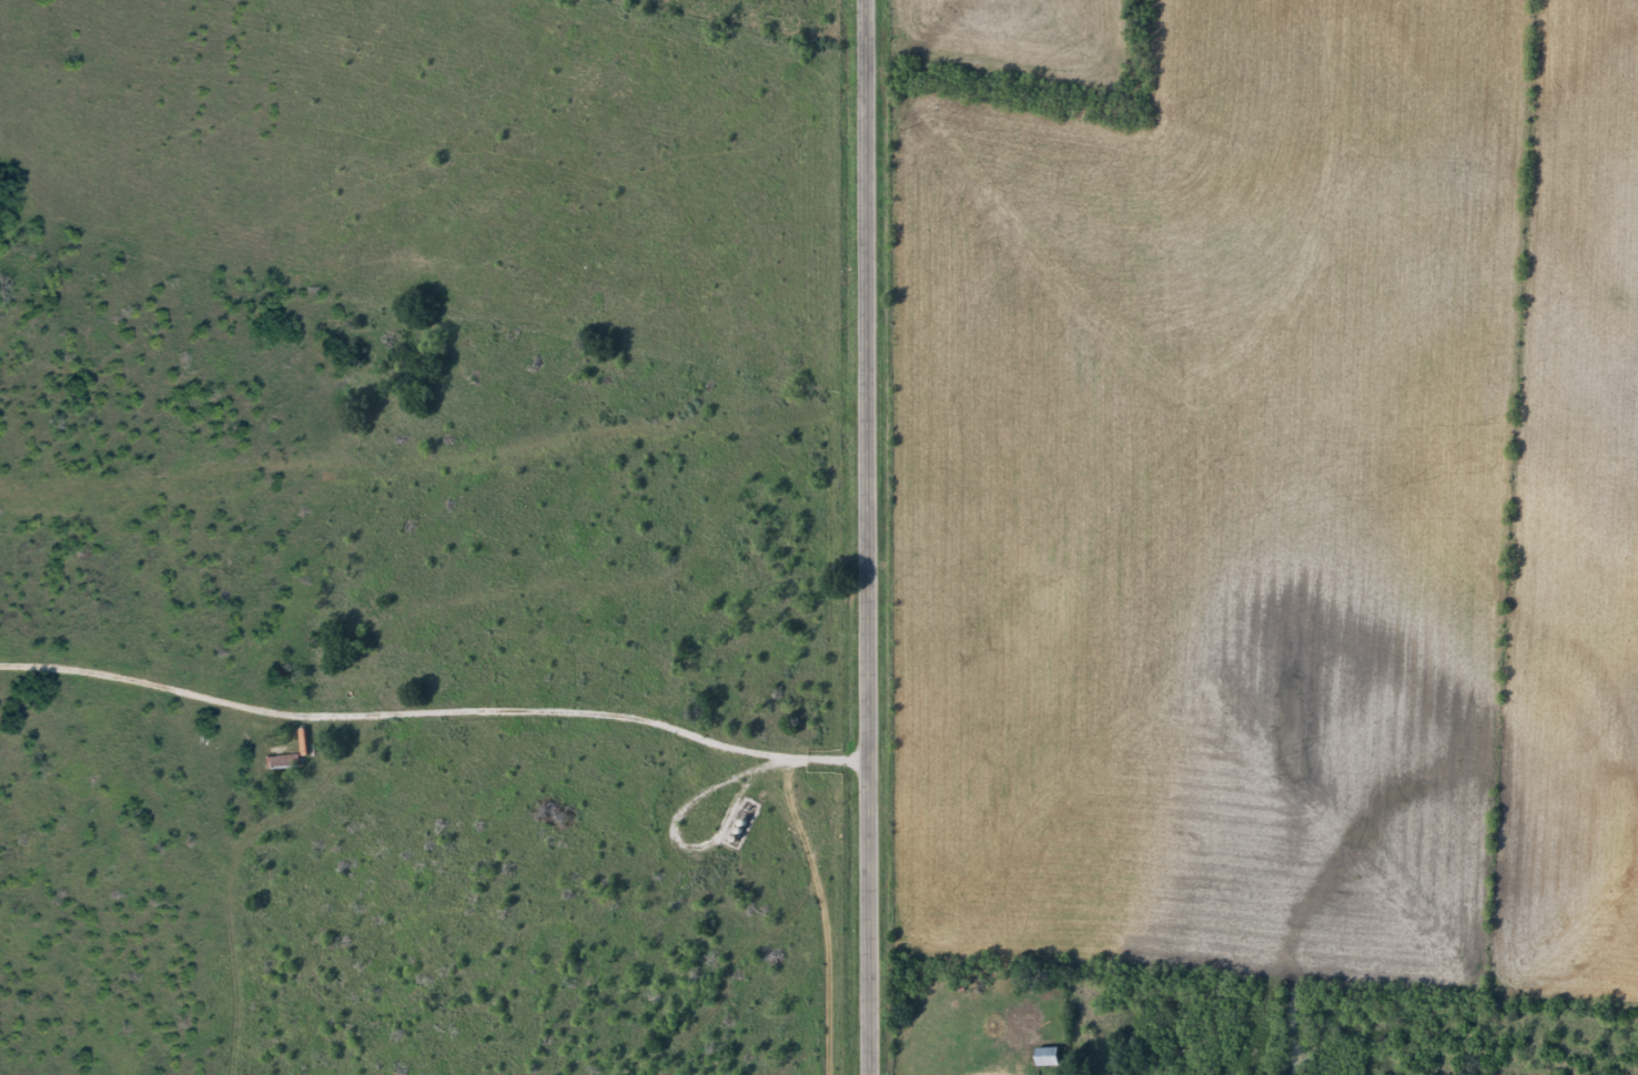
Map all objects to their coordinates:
road: (431, 485)
road: (868, 537)
building: (281, 765)
building: (1045, 1061)

